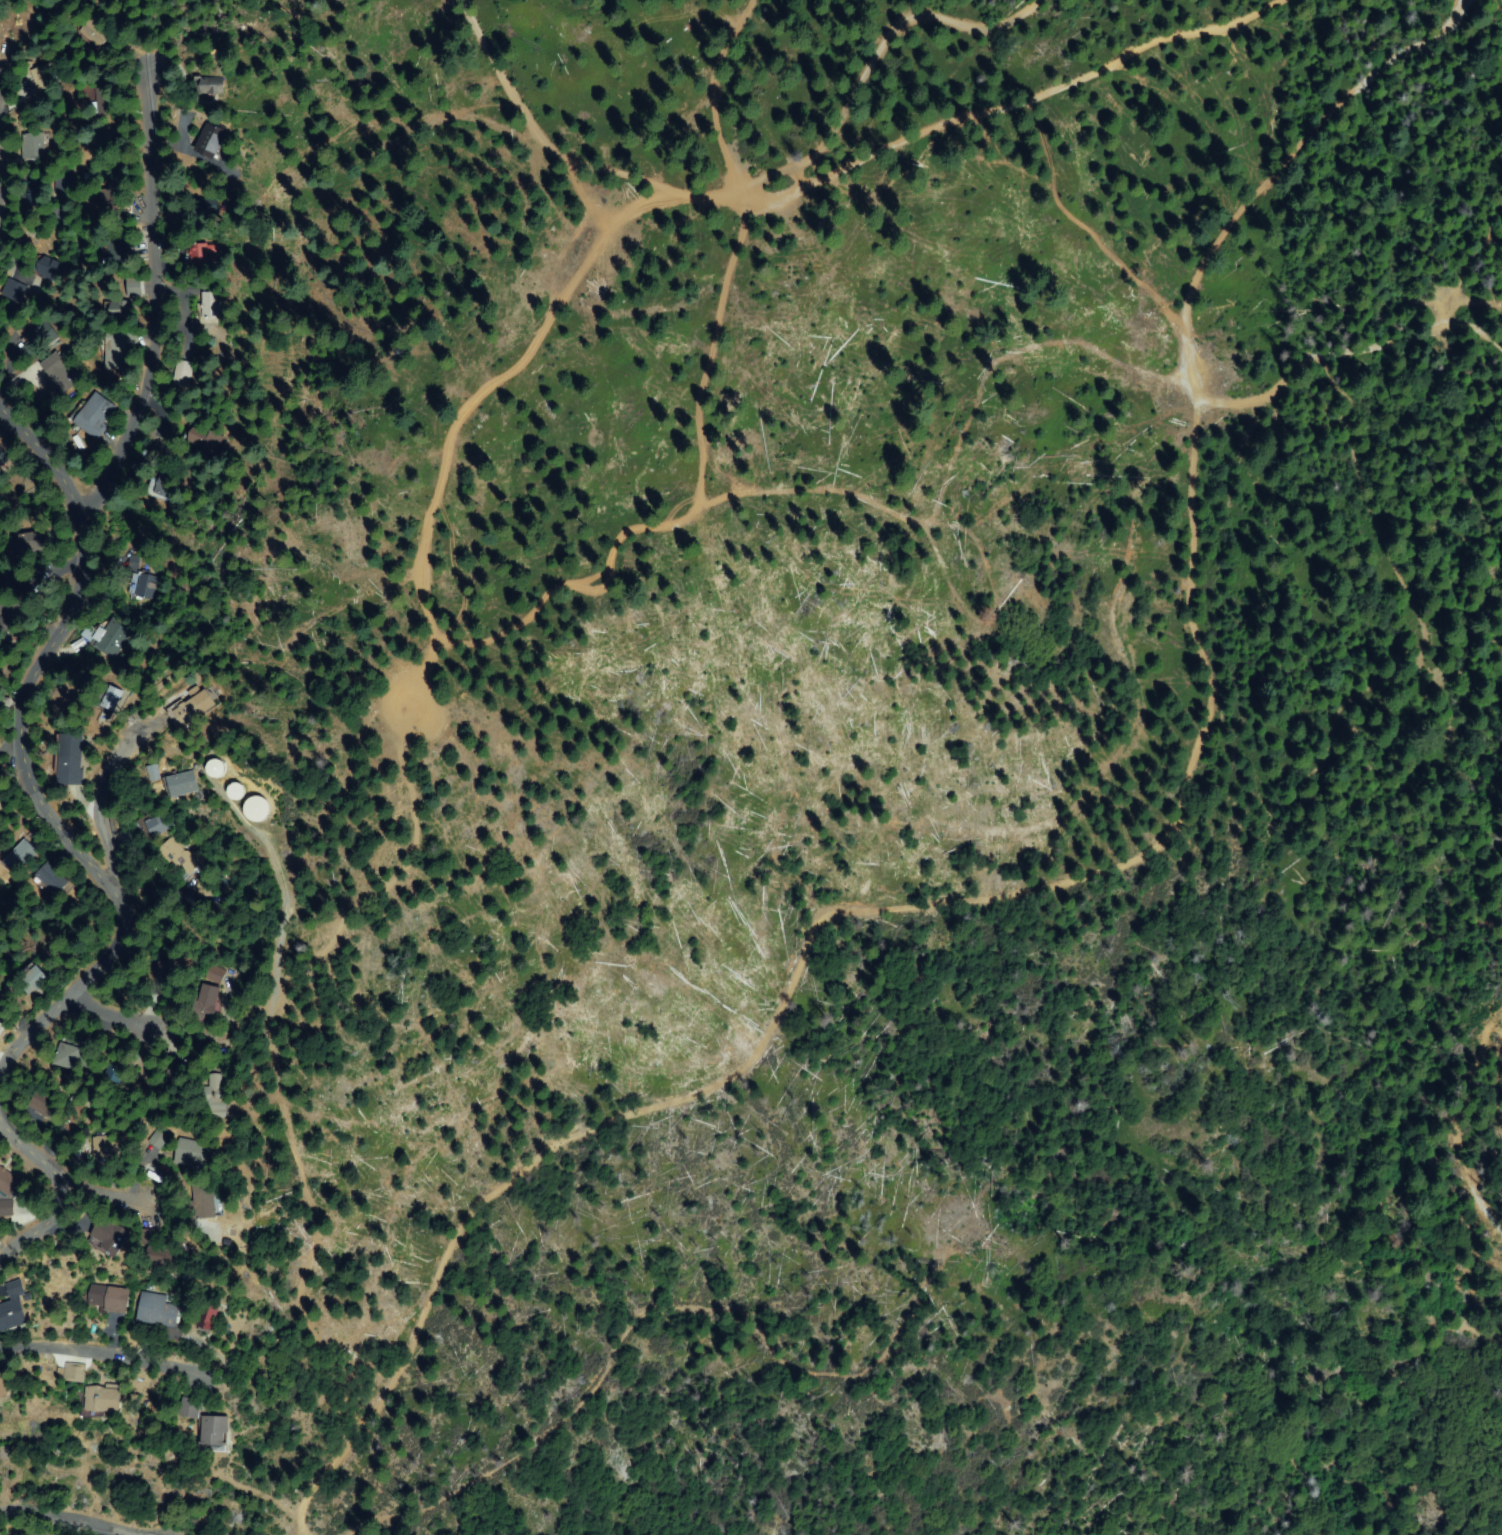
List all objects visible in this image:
building: (93, 34)
road: (887, 40)
building: (45, 79)
building: (208, 86)
building: (103, 101)
building: (109, 133)
building: (213, 140)
building: (31, 146)
road: (846, 171)
building: (61, 182)
building: (34, 189)
building: (113, 195)
building: (201, 207)
building: (114, 252)
building: (197, 255)
building: (47, 268)
building: (129, 285)
road: (1187, 303)
building: (207, 304)
road: (152, 308)
building: (120, 309)
building: (37, 339)
building: (117, 347)
building: (59, 373)
building: (180, 373)
building: (90, 415)
building: (200, 438)
building: (2, 455)
building: (161, 483)
building: (26, 542)
building: (143, 589)
building: (11, 614)
building: (108, 635)
road: (481, 635)
building: (111, 697)
building: (186, 711)
road: (20, 755)
building: (72, 758)
building: (215, 767)
storage tank: (218, 768)
building: (151, 772)
road: (106, 783)
building: (183, 785)
building: (235, 790)
storage tank: (237, 791)
building: (1, 804)
building: (255, 807)
storage tank: (257, 809)
building: (160, 825)
building: (127, 836)
building: (22, 855)
building: (179, 856)
building: (51, 879)
building: (203, 887)
building: (167, 969)
building: (215, 973)
building: (31, 982)
road: (114, 1005)
building: (207, 1007)
building: (0, 1021)
building: (72, 1056)
building: (116, 1071)
building: (174, 1075)
road: (1493, 1075)
building: (217, 1098)
building: (43, 1101)
building: (150, 1145)
building: (112, 1147)
building: (194, 1152)
building: (9, 1182)
road: (52, 1184)
road: (85, 1189)
building: (204, 1201)
building: (5, 1206)
building: (109, 1236)
building: (150, 1237)
road: (1419, 1241)
building: (163, 1258)
building: (109, 1297)
building: (13, 1310)
building: (157, 1310)
building: (209, 1317)
road: (102, 1340)
building: (74, 1372)
building: (5, 1387)
building: (102, 1399)
building: (191, 1407)
building: (214, 1433)
road: (77, 1519)

